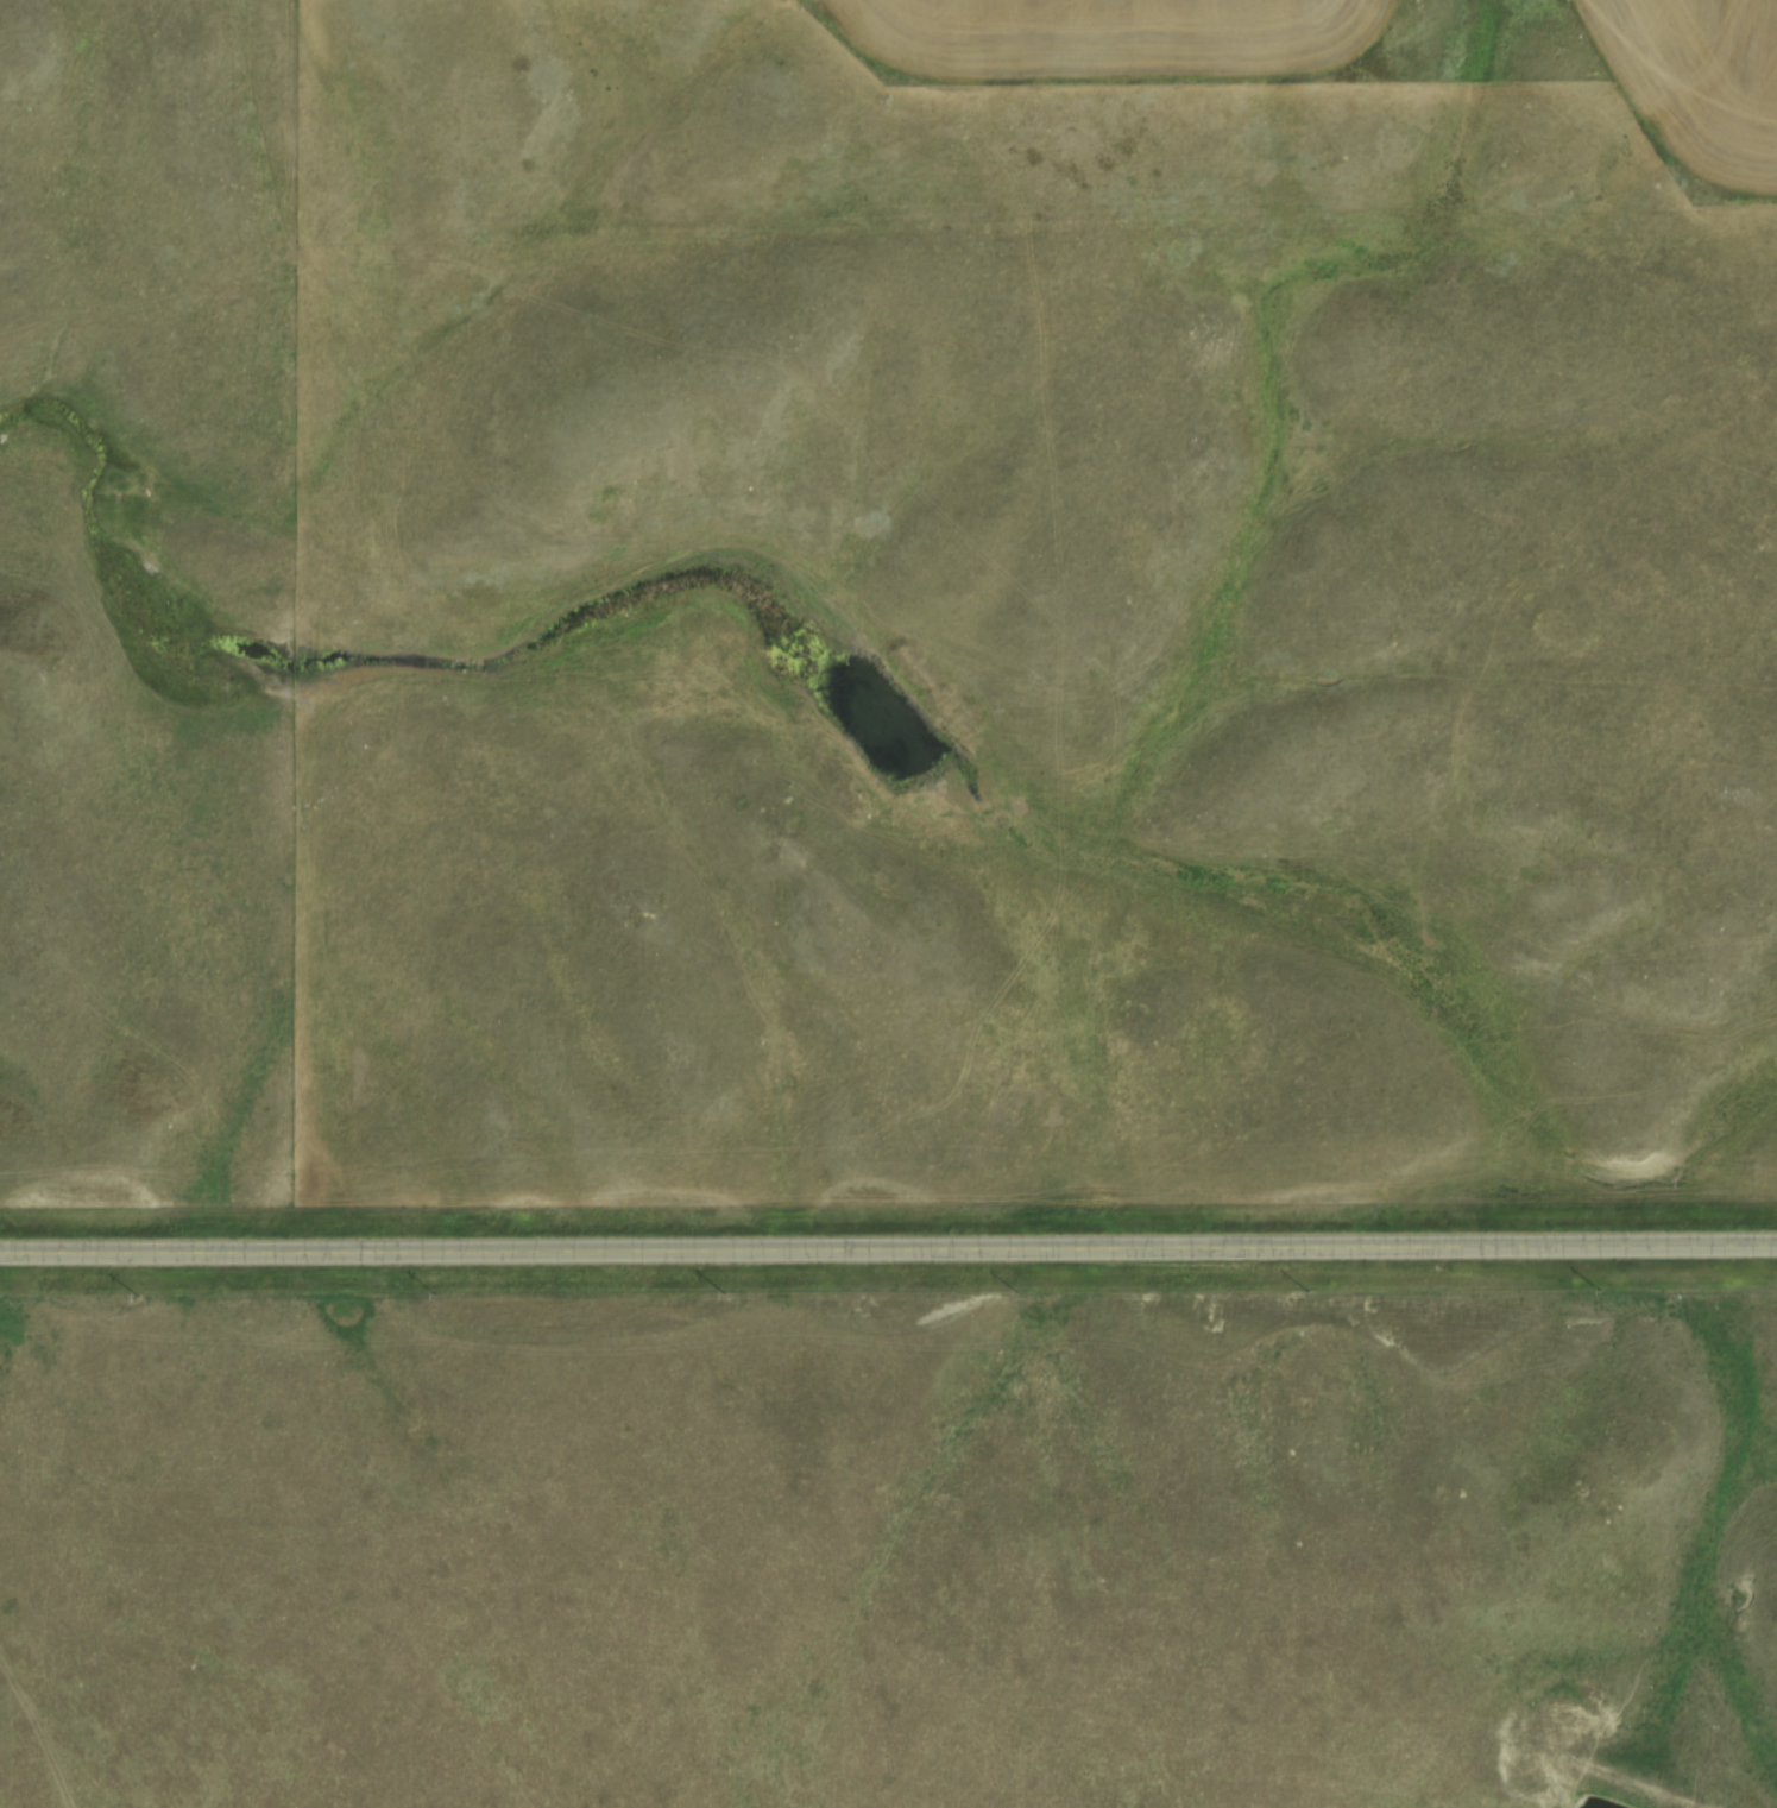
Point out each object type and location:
road: (888, 1245)

